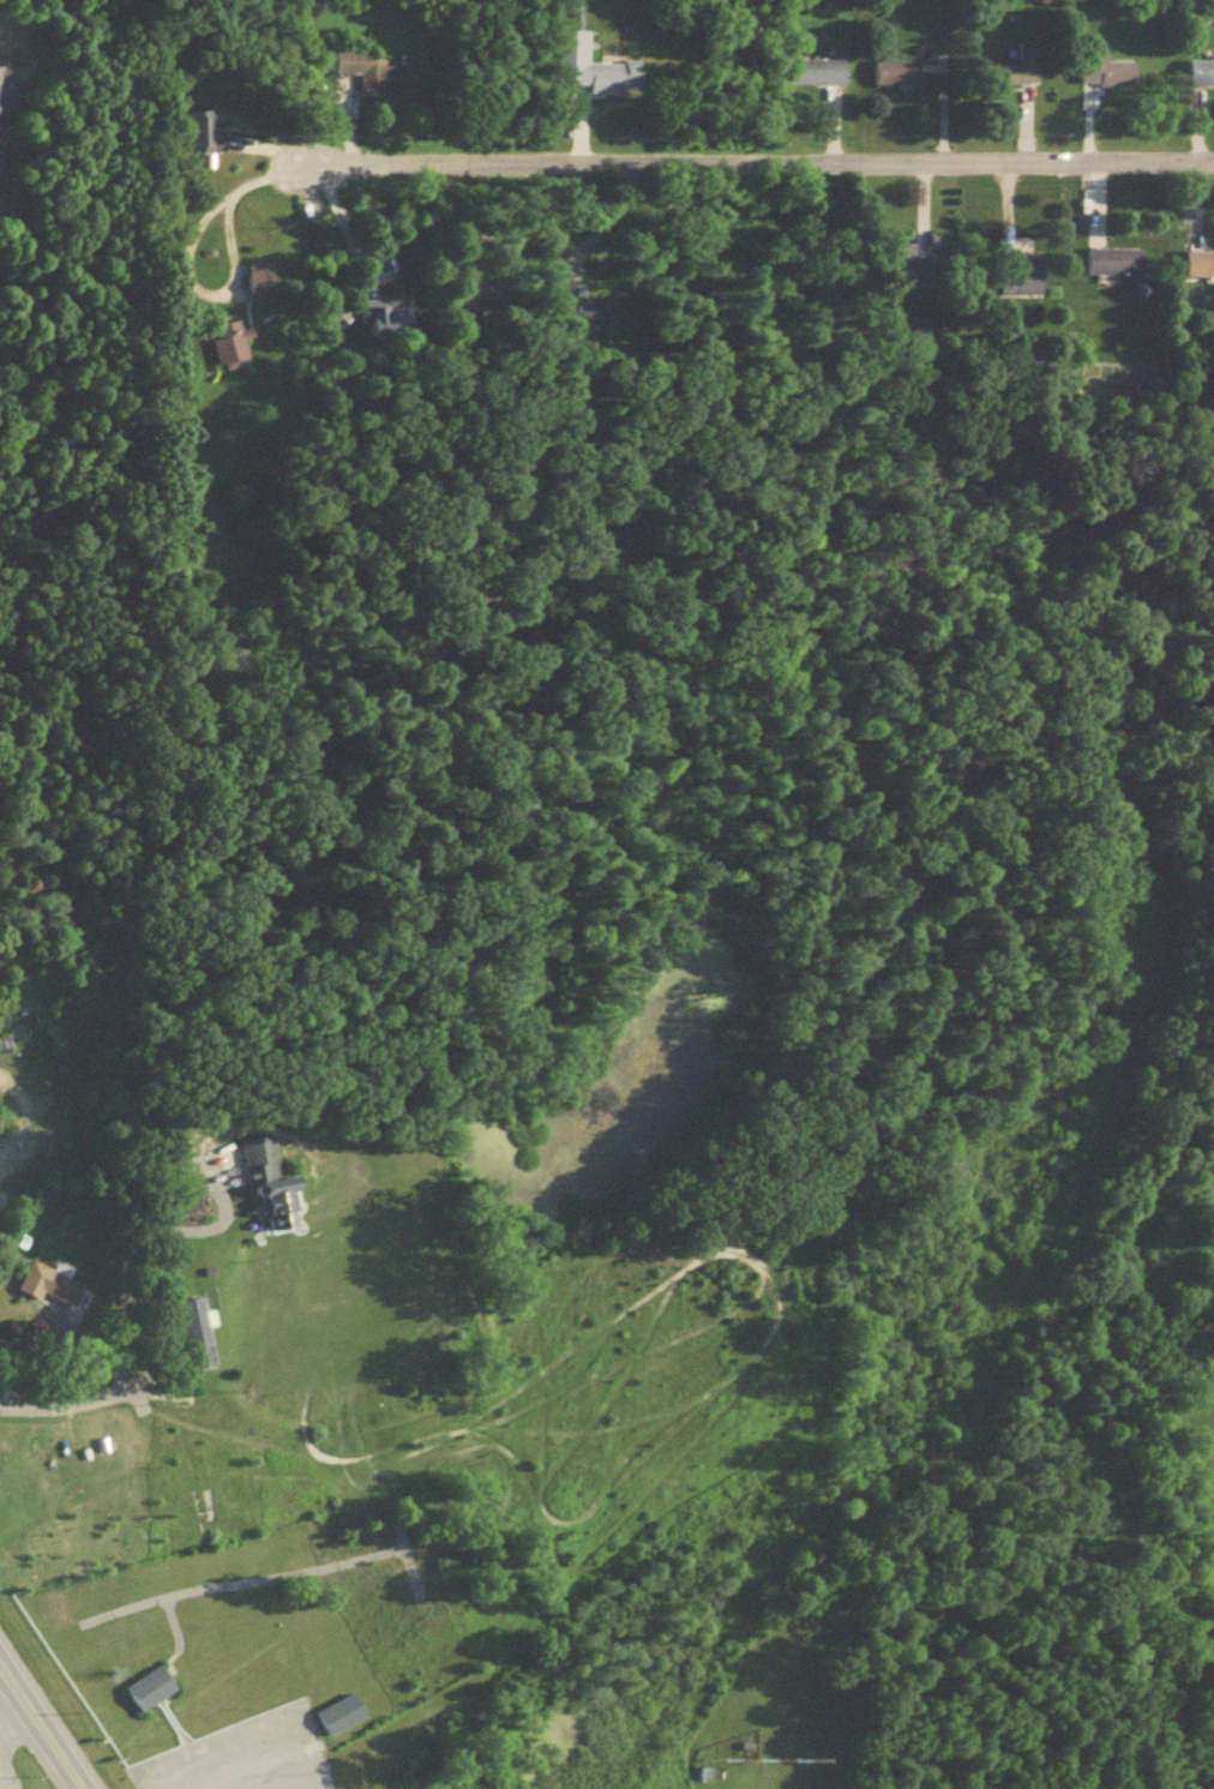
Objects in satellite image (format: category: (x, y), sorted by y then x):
building: (1016, 73)
building: (373, 78)
building: (817, 78)
building: (899, 78)
building: (1108, 78)
building: (1201, 78)
building: (600, 82)
building: (203, 138)
road: (740, 164)
building: (915, 253)
road: (355, 254)
building: (1116, 268)
building: (1198, 271)
road: (184, 280)
building: (1021, 282)
building: (259, 289)
building: (583, 320)
building: (335, 322)
building: (378, 324)
building: (230, 349)
building: (274, 1193)
road: (190, 1233)
building: (52, 1287)
building: (200, 1339)
road: (78, 1405)
building: (152, 1694)
road: (12, 1718)
building: (342, 1721)
road: (37, 1730)

